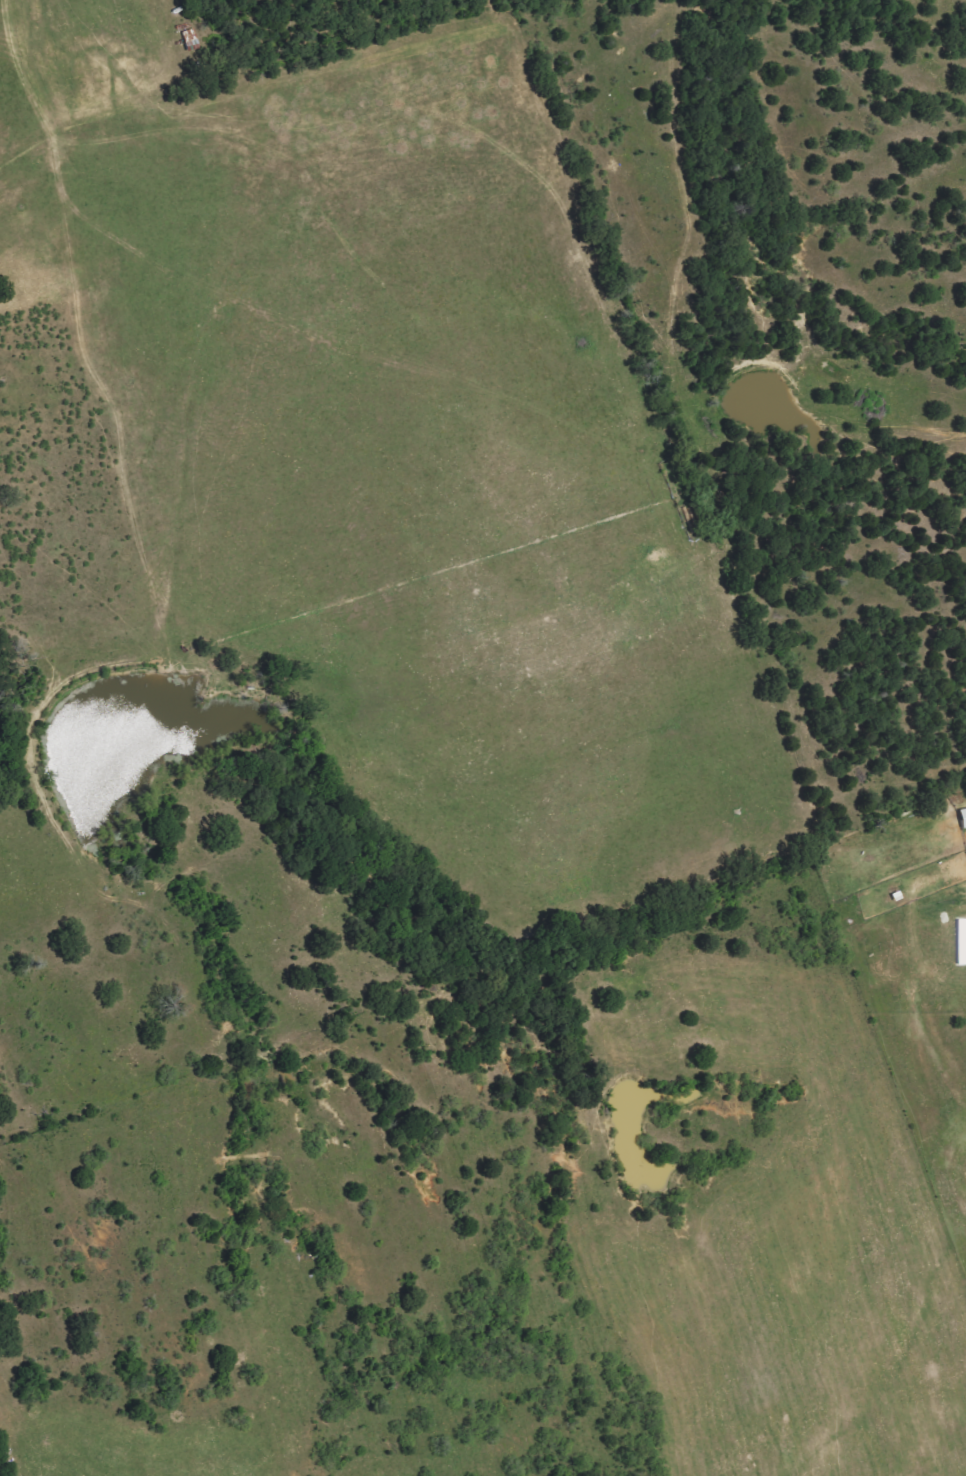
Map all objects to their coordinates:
building: (964, 816)

